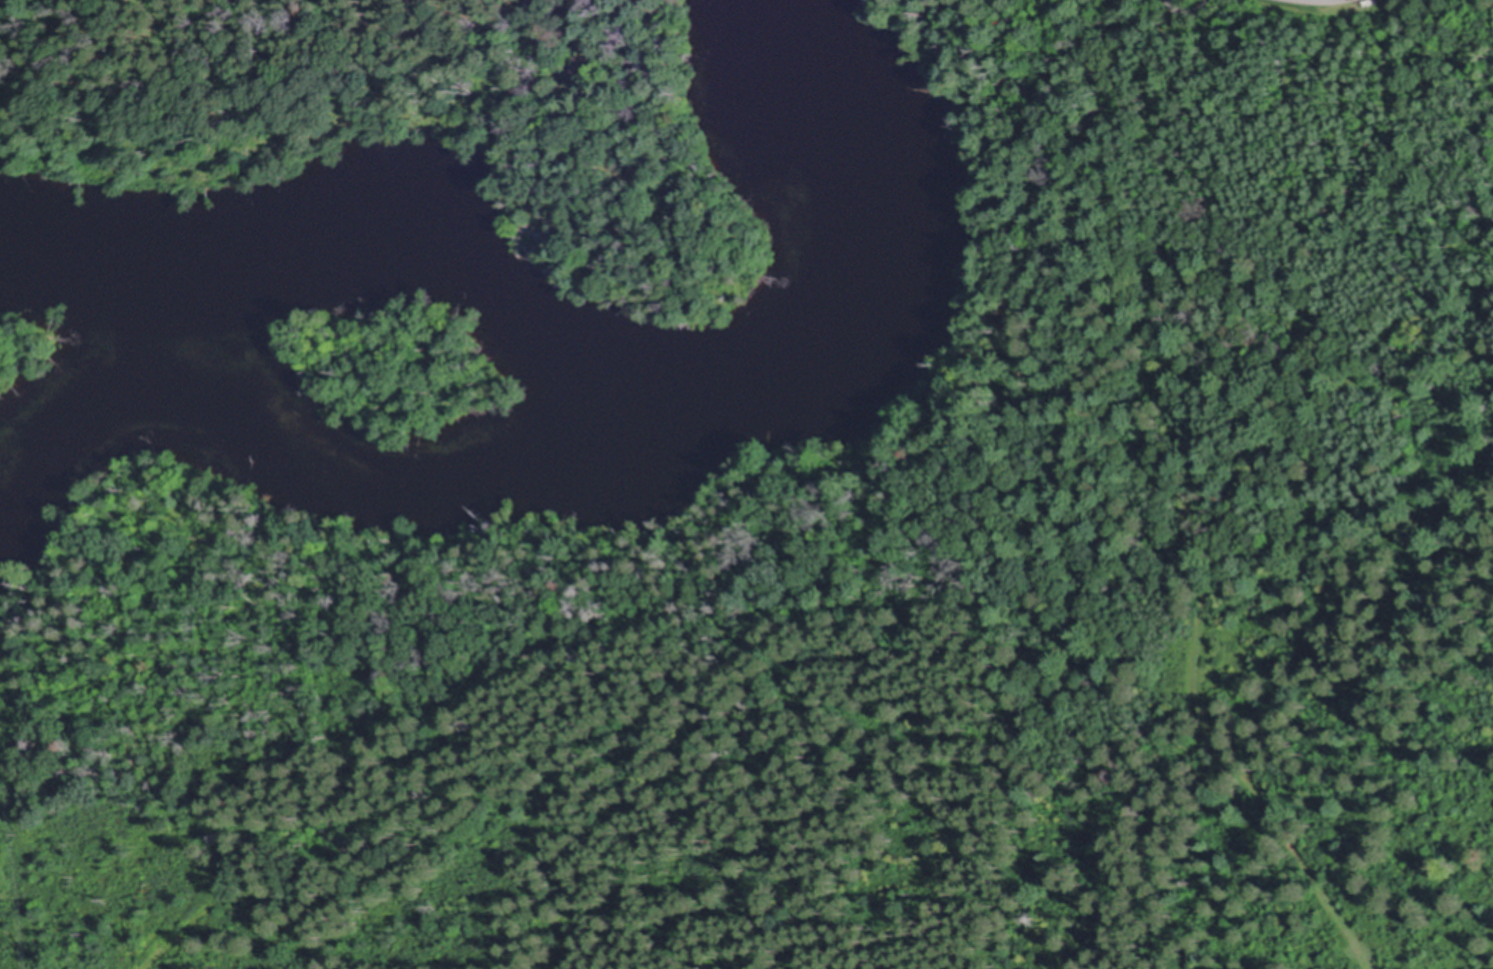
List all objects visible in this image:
river: (570, 443)

